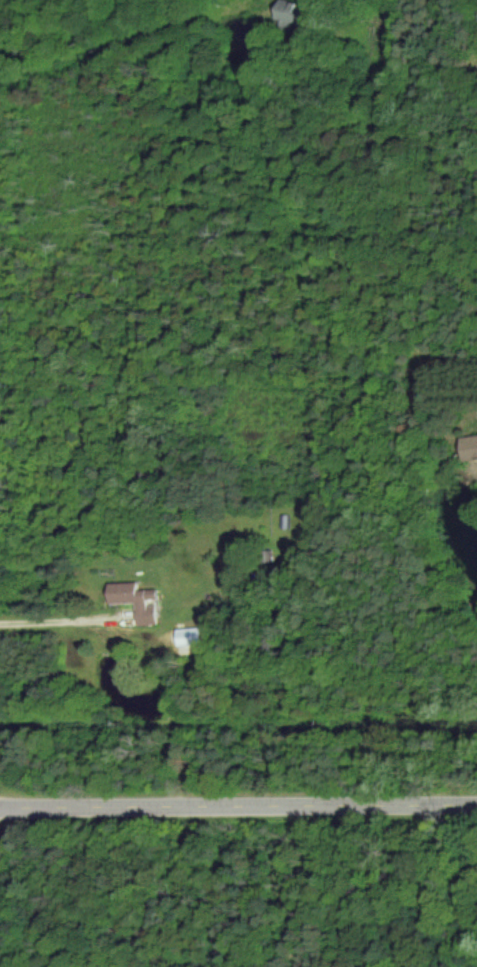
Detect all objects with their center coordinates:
building: (284, 12)
building: (468, 447)
building: (130, 600)
road: (54, 613)
building: (185, 636)
road: (238, 805)

